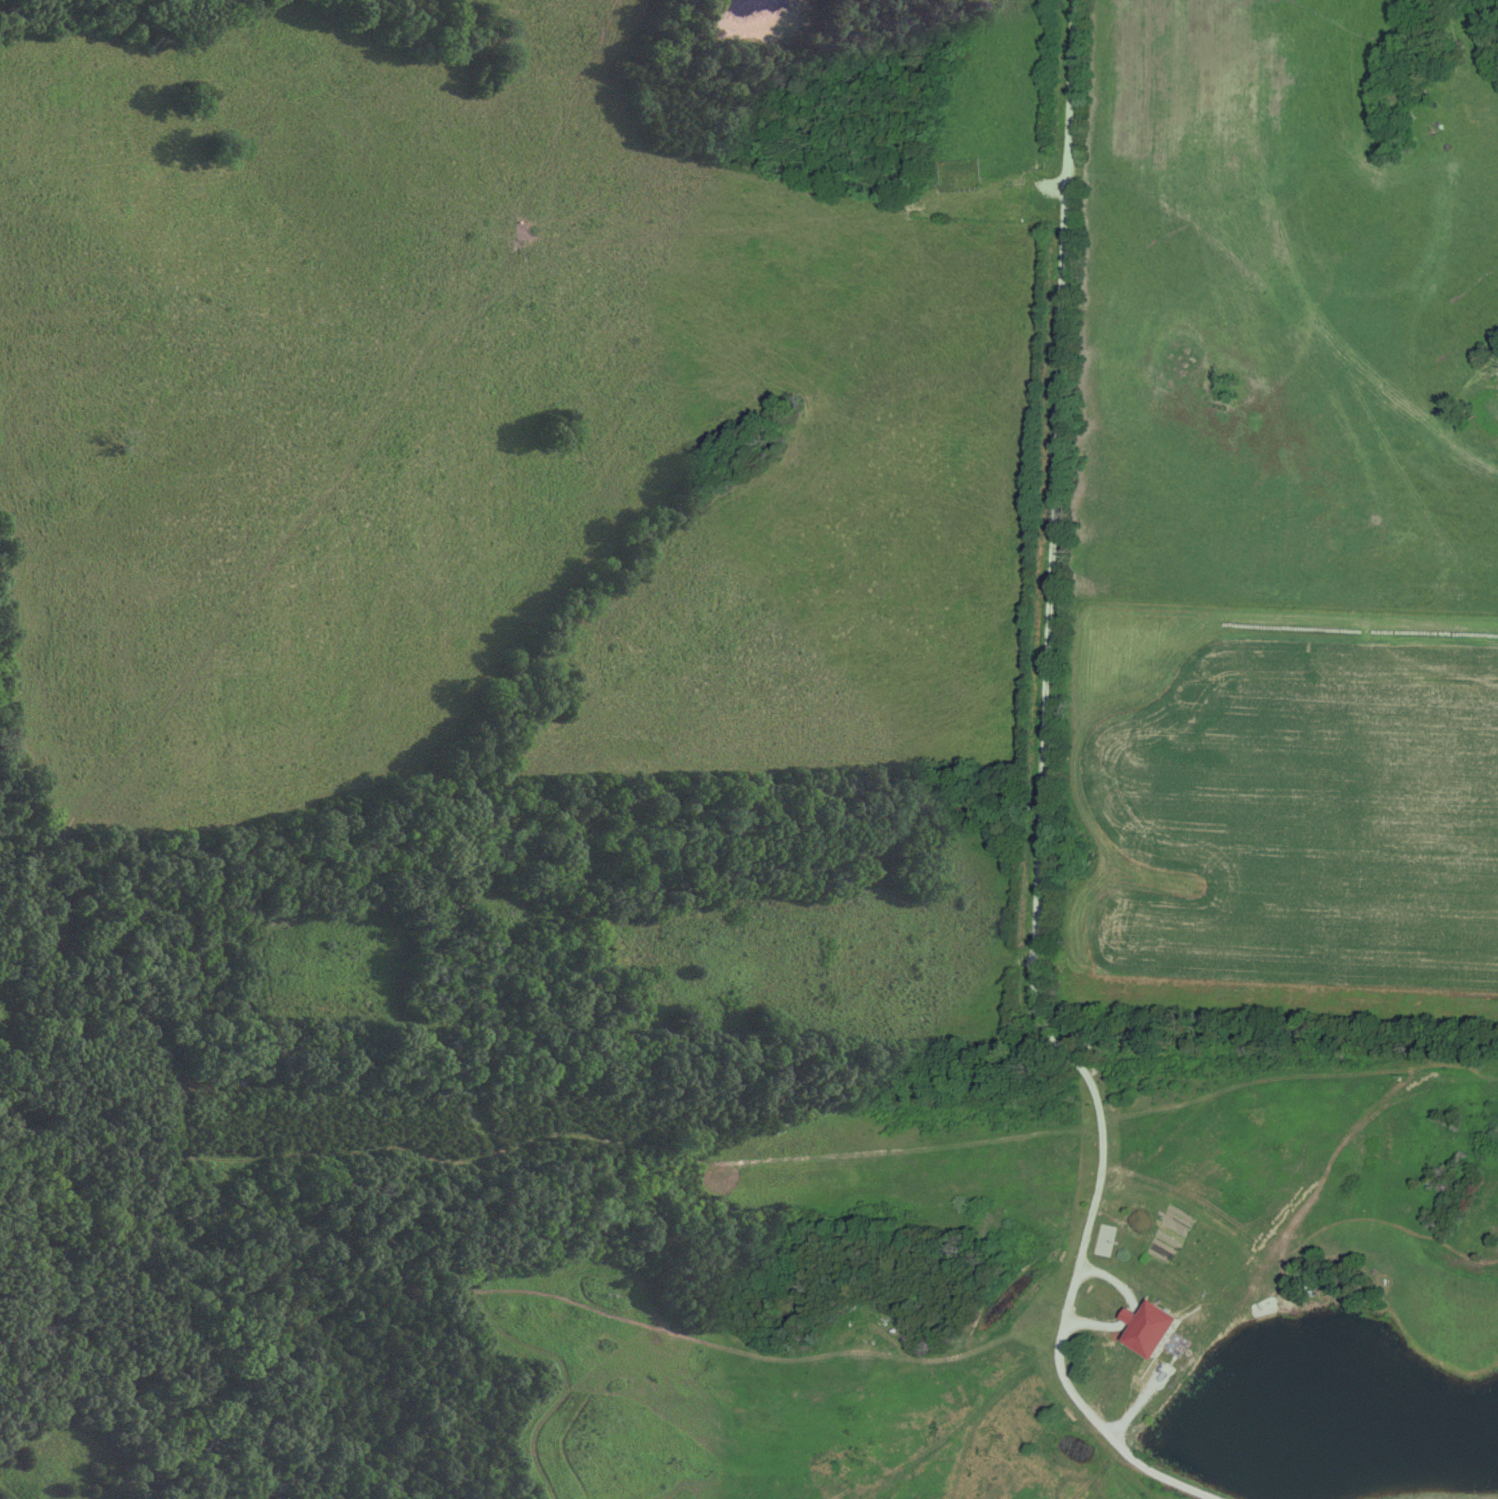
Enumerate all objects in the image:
road: (1049, 740)
road: (1066, 1306)
building: (1147, 1329)

